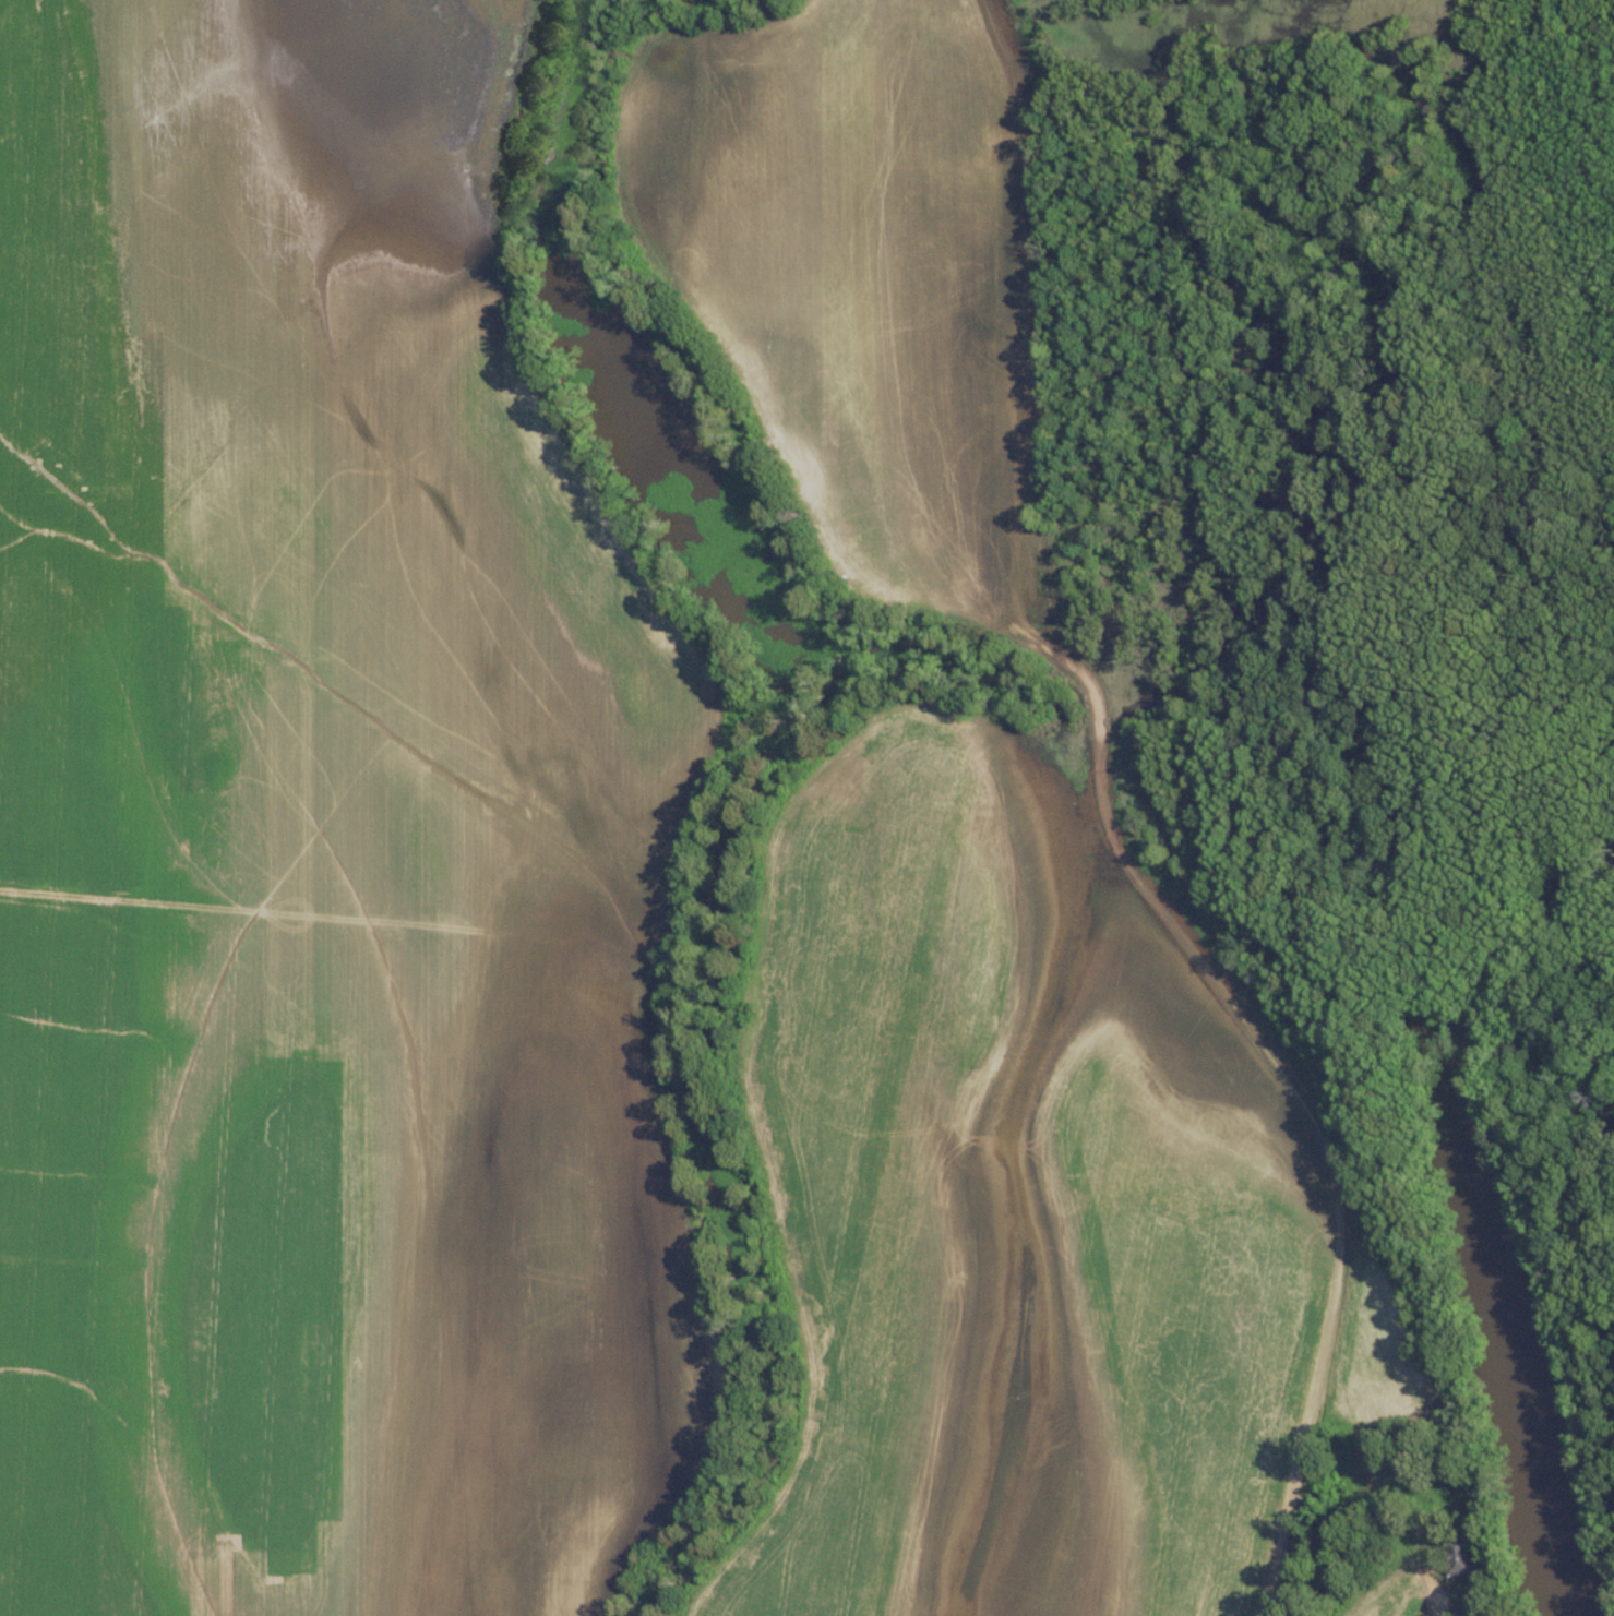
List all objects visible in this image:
road: (1184, 1484)
building: (1460, 1556)

